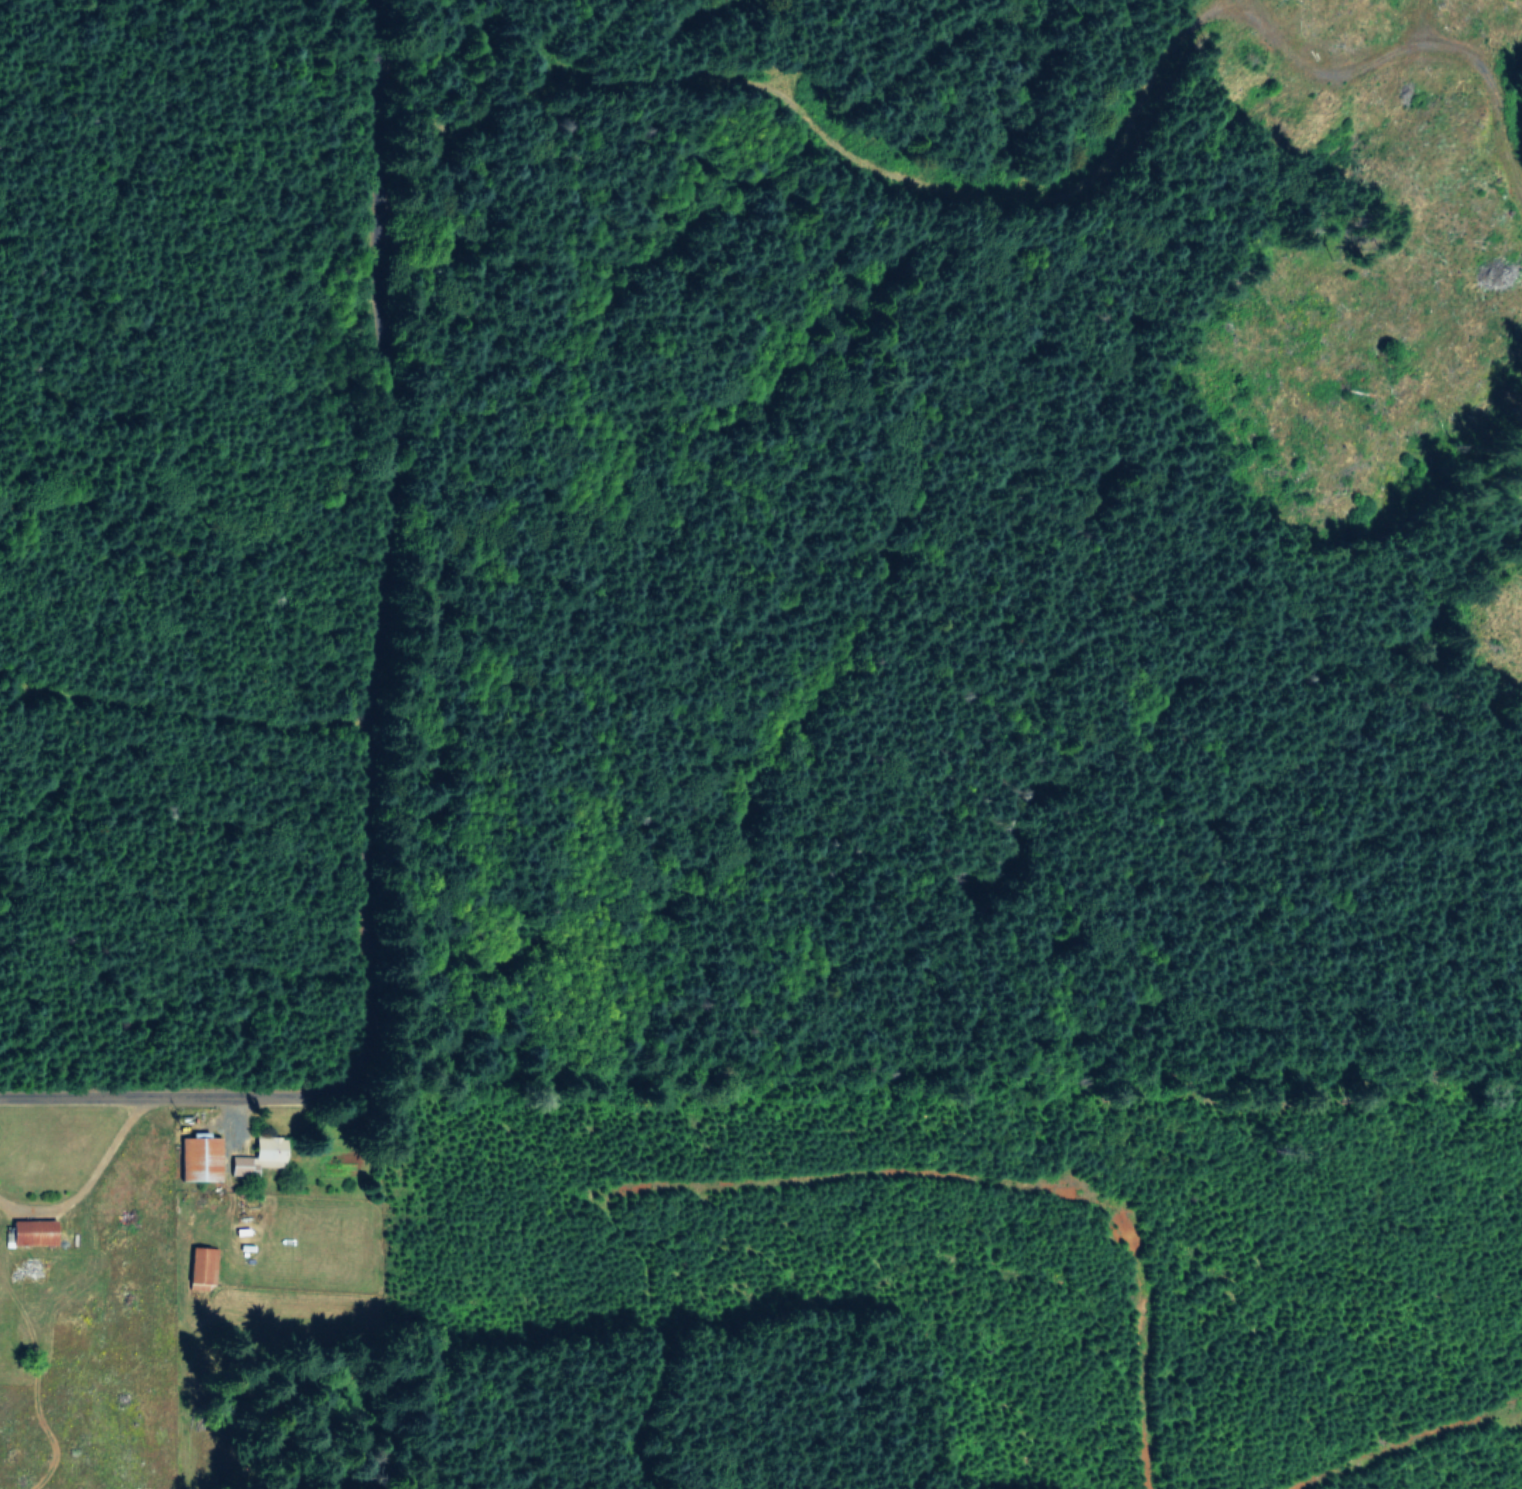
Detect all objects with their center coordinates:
road: (374, 711)
building: (199, 1157)
building: (253, 1157)
road: (87, 1174)
building: (32, 1231)
building: (198, 1264)

